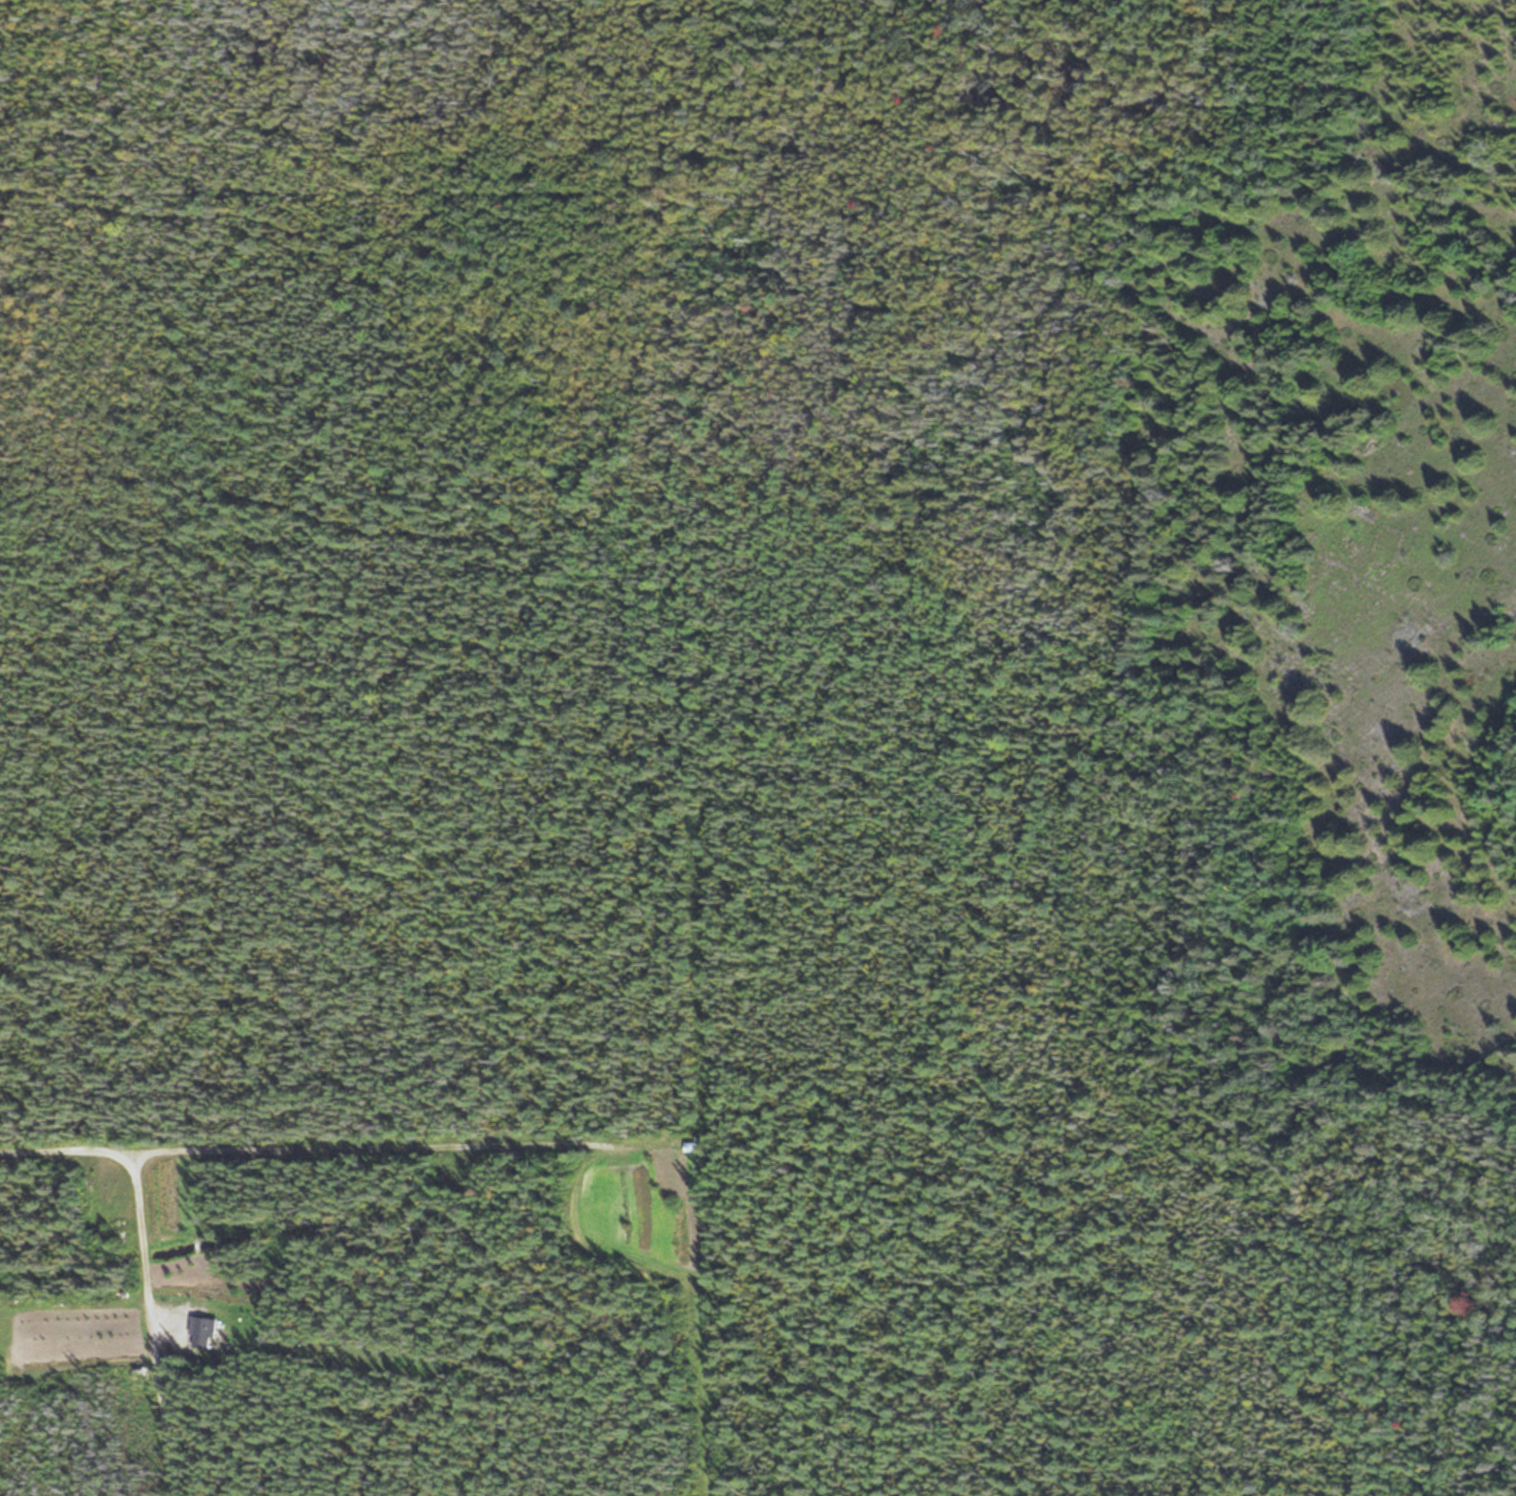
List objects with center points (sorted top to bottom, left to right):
building: (693, 1148)

